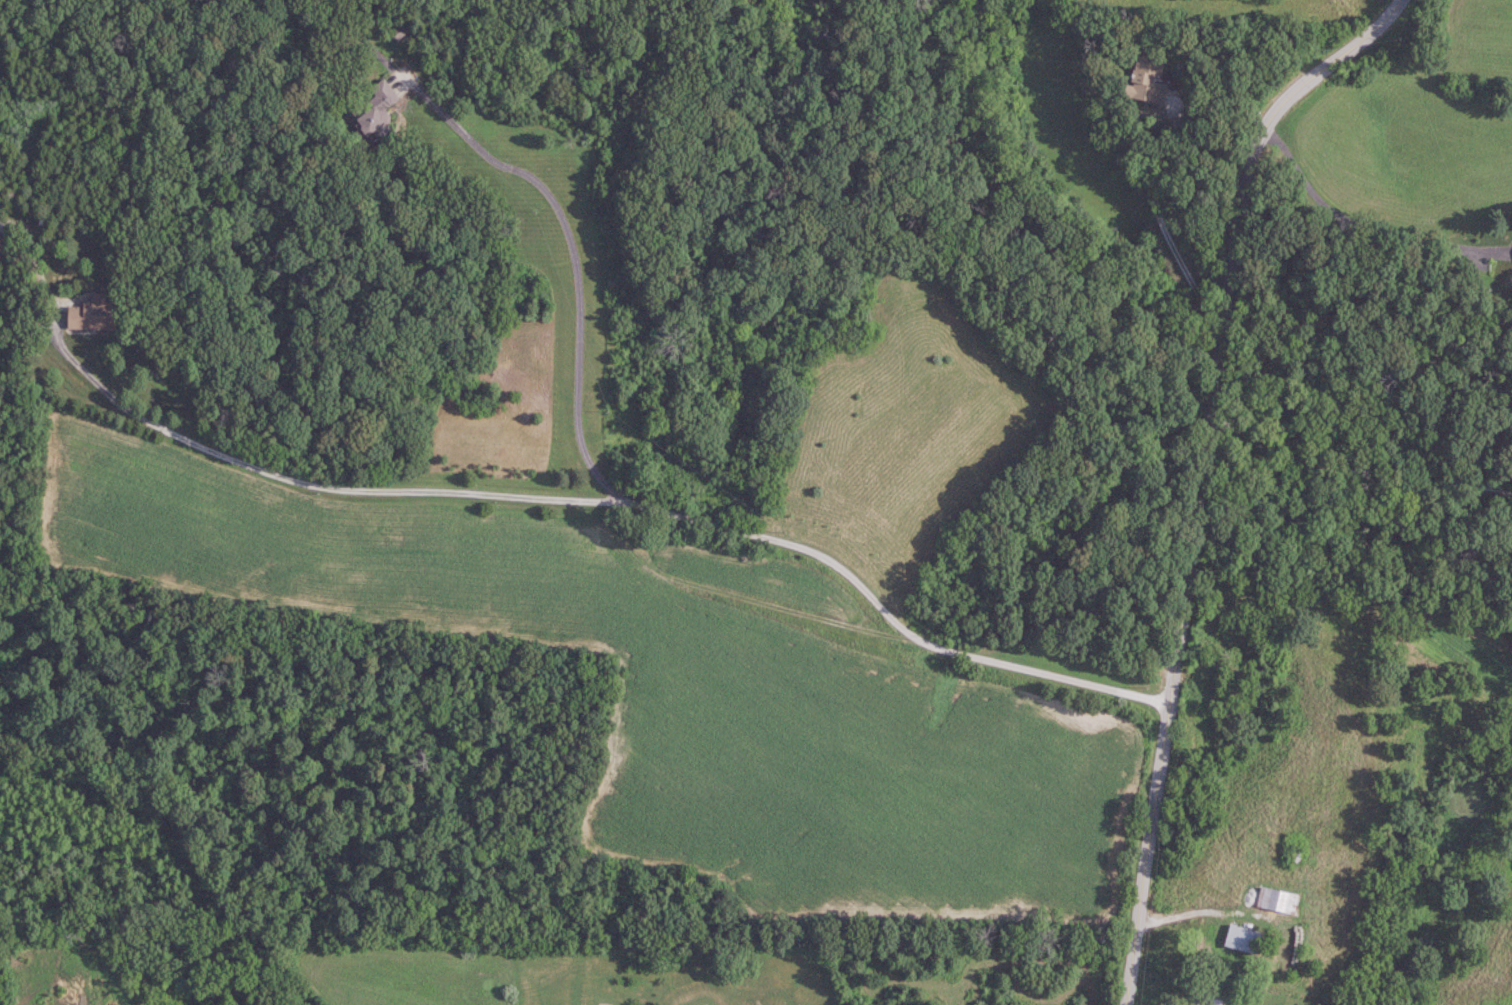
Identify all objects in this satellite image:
building: (1149, 79)
building: (378, 108)
road: (1161, 218)
road: (1356, 222)
building: (2, 246)
road: (39, 262)
road: (576, 263)
building: (95, 314)
road: (1201, 468)
road: (1354, 471)
road: (607, 501)
building: (1279, 899)
building: (1245, 939)
building: (1203, 954)
building: (1214, 998)

